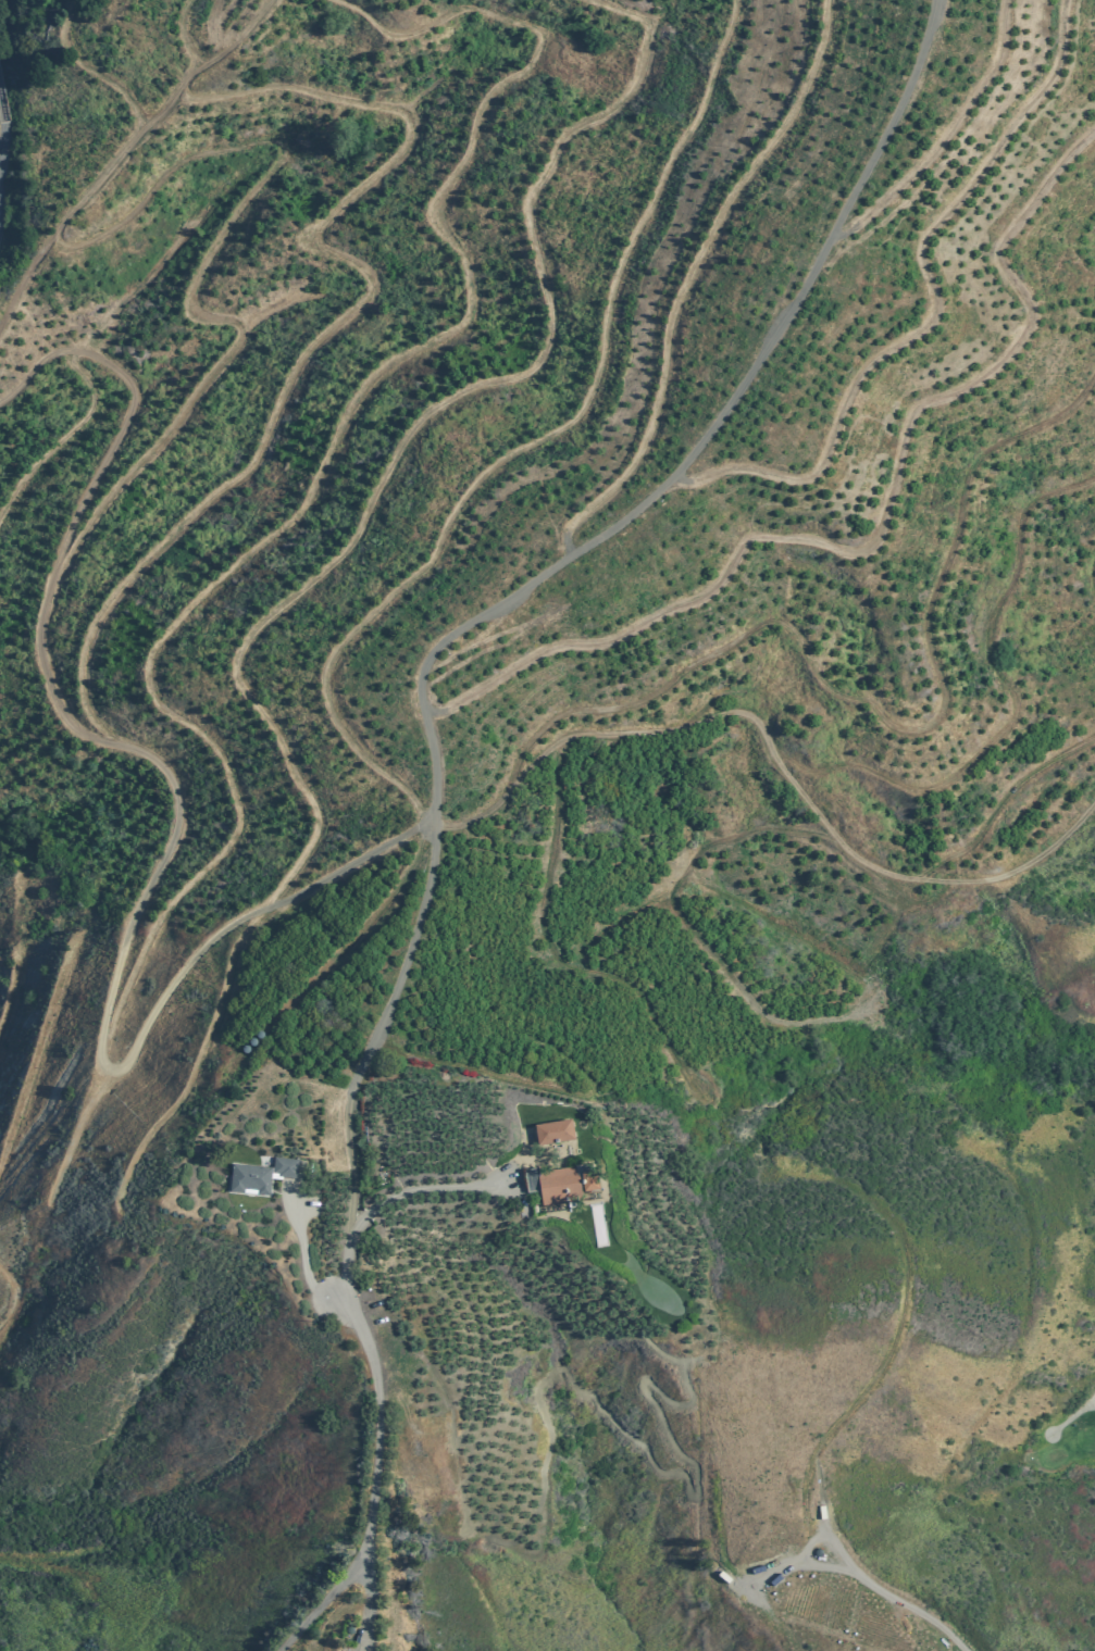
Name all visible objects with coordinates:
road: (0, 126)
road: (507, 599)
building: (556, 1134)
building: (263, 1176)
building: (592, 1181)
building: (561, 1186)
park: (1065, 1443)
road: (376, 1483)
road: (894, 1597)

